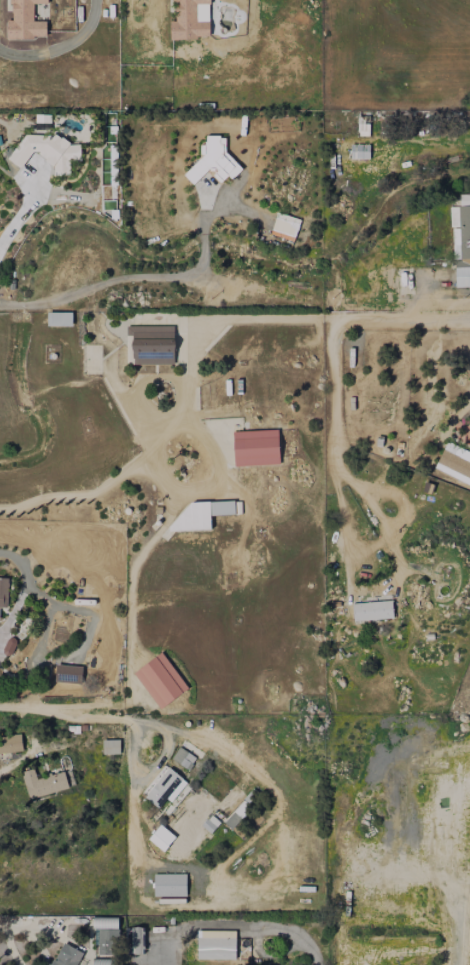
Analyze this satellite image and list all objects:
building: (190, 19)
building: (25, 21)
building: (47, 151)
building: (359, 151)
building: (214, 162)
road: (19, 215)
building: (285, 226)
building: (461, 232)
road: (153, 273)
building: (462, 277)
building: (59, 318)
road: (280, 318)
road: (404, 318)
building: (152, 344)
road: (141, 384)
road: (334, 432)
building: (256, 447)
road: (144, 456)
building: (454, 462)
building: (222, 507)
building: (193, 517)
building: (3, 592)
building: (372, 610)
road: (46, 620)
building: (68, 674)
building: (160, 680)
road: (134, 721)
building: (10, 743)
building: (110, 747)
building: (183, 758)
road: (146, 771)
building: (43, 783)
building: (165, 787)
building: (237, 813)
building: (211, 823)
building: (161, 837)
road: (185, 865)
building: (169, 884)
building: (105, 922)
road: (12, 925)
road: (237, 926)
building: (136, 939)
building: (107, 941)
building: (216, 944)
road: (270, 954)
building: (66, 955)
building: (104, 961)

